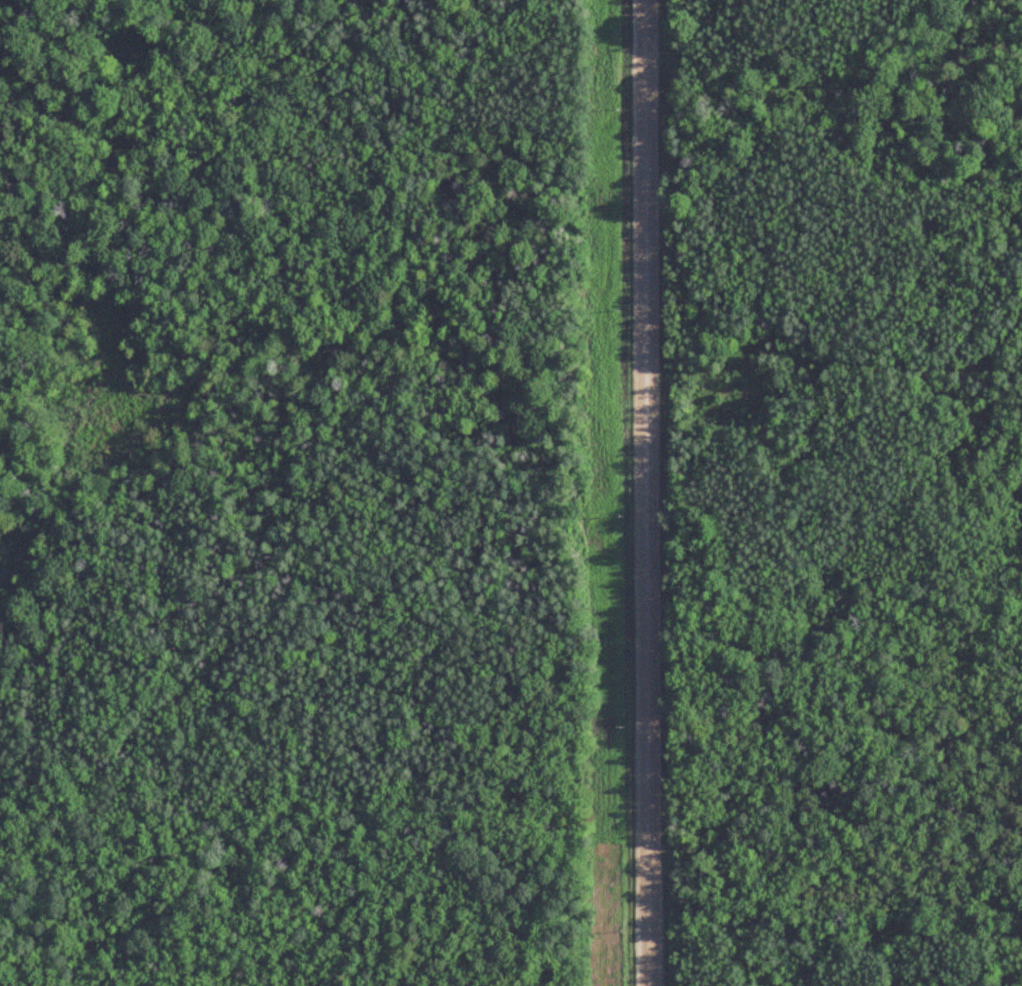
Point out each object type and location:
road: (641, 493)

